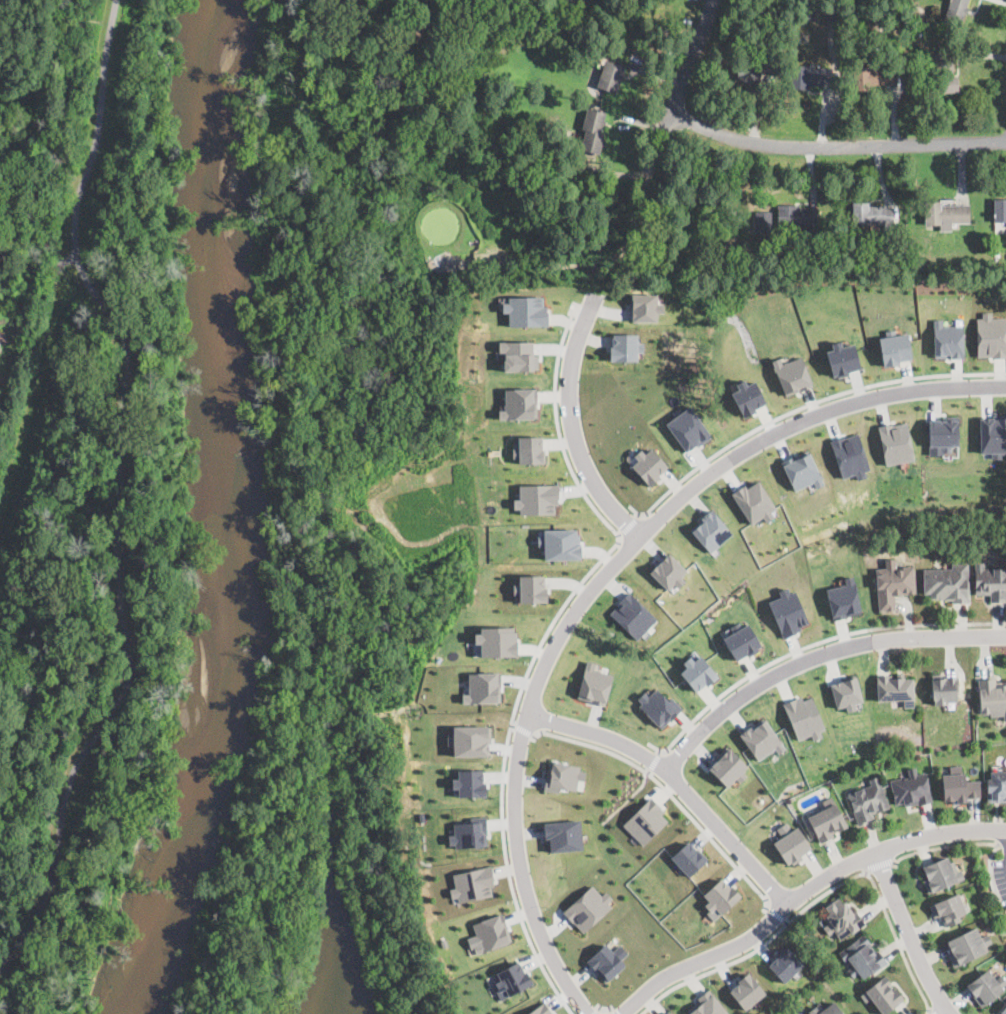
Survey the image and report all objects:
building: (833, 10)
building: (955, 12)
building: (917, 15)
building: (917, 32)
road: (687, 58)
building: (750, 71)
building: (944, 73)
building: (610, 76)
building: (810, 76)
building: (872, 77)
river: (211, 114)
building: (592, 130)
road: (835, 146)
building: (999, 210)
building: (944, 213)
building: (796, 215)
building: (871, 215)
building: (761, 220)
building: (997, 255)
building: (914, 267)
building: (645, 307)
building: (525, 310)
building: (990, 335)
building: (947, 339)
building: (0, 342)
building: (0, 346)
building: (623, 346)
building: (894, 348)
building: (517, 354)
building: (842, 358)
building: (791, 374)
building: (746, 396)
building: (519, 403)
road: (806, 404)
road: (571, 424)
road: (557, 425)
building: (687, 428)
building: (942, 434)
building: (992, 435)
building: (895, 442)
building: (527, 448)
building: (849, 455)
building: (648, 465)
building: (801, 470)
road: (713, 471)
road: (118, 489)
building: (536, 498)
building: (753, 501)
road: (628, 525)
building: (710, 529)
building: (559, 543)
building: (668, 571)
building: (990, 581)
building: (894, 582)
building: (949, 582)
building: (530, 587)
building: (843, 598)
building: (787, 610)
building: (632, 614)
park: (78, 619)
river: (231, 627)
building: (496, 639)
building: (741, 641)
road: (808, 644)
road: (815, 655)
building: (697, 672)
building: (594, 684)
building: (482, 687)
building: (896, 688)
building: (944, 688)
building: (846, 691)
building: (992, 696)
building: (658, 706)
building: (803, 717)
road: (522, 730)
building: (761, 738)
building: (470, 739)
road: (654, 761)
road: (504, 766)
building: (729, 766)
building: (562, 777)
road: (675, 781)
building: (469, 782)
building: (959, 785)
building: (996, 785)
building: (911, 788)
road: (669, 794)
building: (868, 799)
road: (1000, 818)
building: (827, 820)
building: (646, 821)
building: (467, 834)
building: (563, 834)
road: (1002, 844)
building: (792, 845)
road: (942, 848)
building: (688, 858)
road: (879, 866)
road: (521, 872)
building: (940, 874)
building: (472, 884)
road: (801, 893)
building: (721, 896)
road: (818, 899)
building: (588, 908)
building: (948, 908)
road: (778, 916)
building: (841, 919)
building: (488, 932)
road: (909, 934)
building: (967, 945)
building: (861, 956)
building: (605, 963)
building: (785, 964)
building: (513, 979)
building: (985, 986)
building: (746, 990)
building: (883, 995)
building: (707, 1005)
road: (604, 1008)
building: (825, 1009)
building: (540, 1010)
building: (1003, 1010)
road: (597, 1011)
road: (609, 1011)
road: (931, 1011)
building: (668, 1012)
road: (947, 1013)

